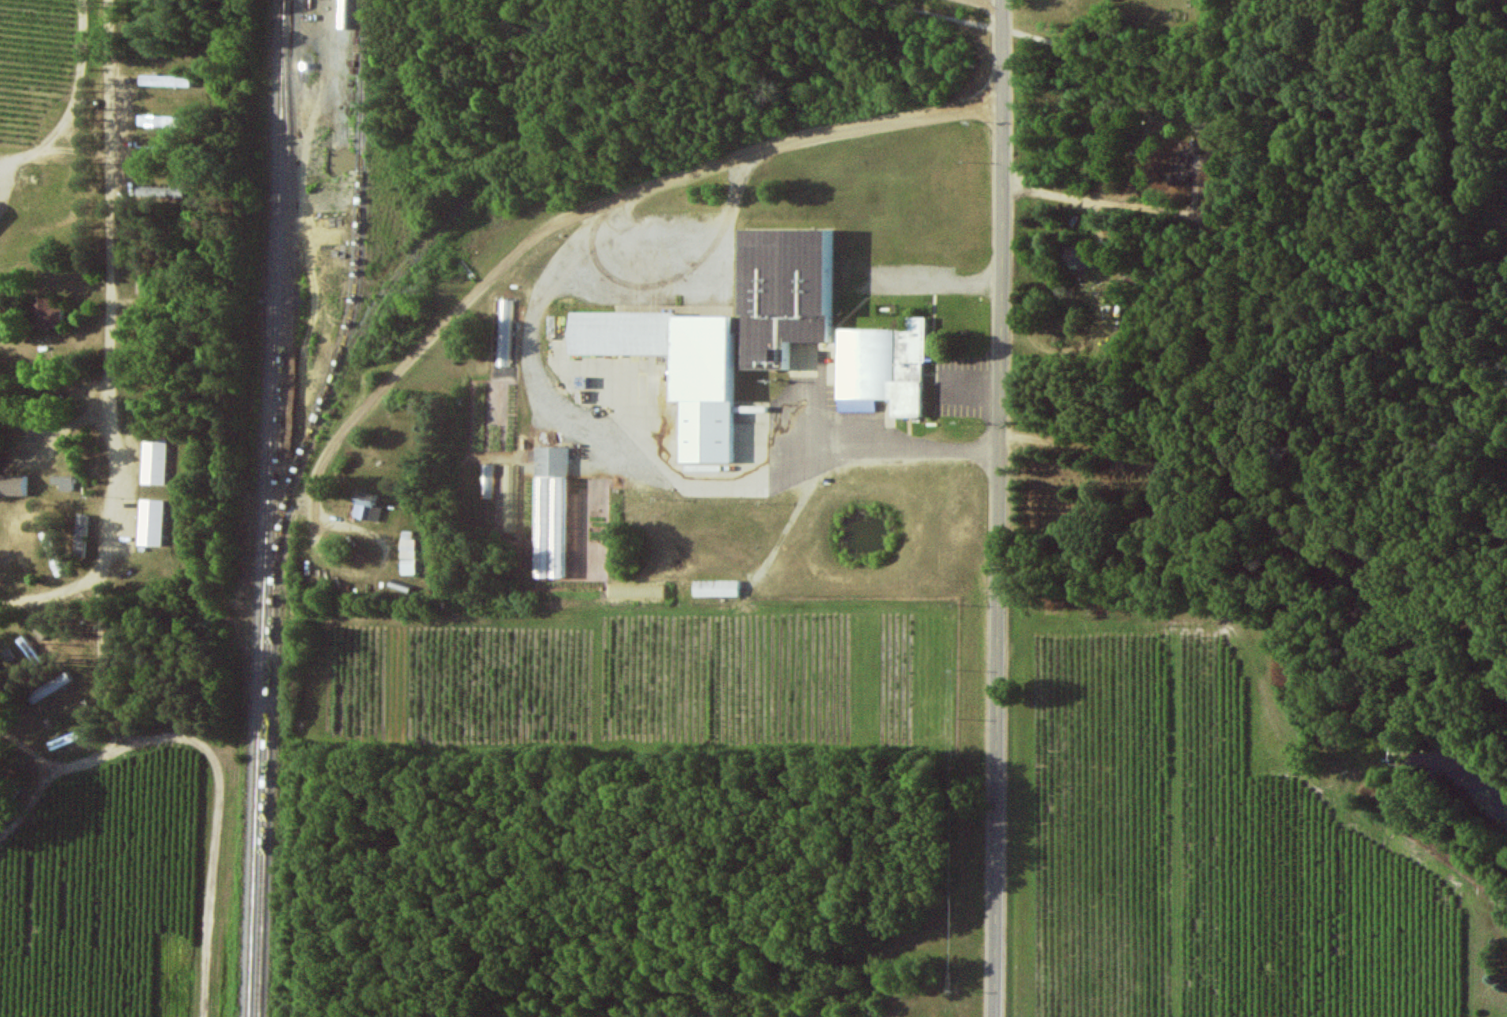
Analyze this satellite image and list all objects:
road: (1001, 0)
road: (1004, 0)
road: (1189, 75)
building: (165, 80)
building: (156, 120)
building: (1180, 168)
road: (604, 194)
road: (110, 195)
road: (1261, 227)
building: (1076, 253)
road: (940, 281)
building: (44, 313)
building: (505, 332)
building: (725, 334)
building: (880, 369)
road: (34, 403)
building: (154, 461)
building: (61, 481)
building: (13, 485)
building: (366, 506)
railway: (269, 508)
railway: (278, 508)
road: (1000, 509)
building: (551, 512)
park: (1097, 517)
building: (151, 522)
building: (80, 535)
road: (110, 535)
building: (407, 548)
building: (408, 567)
building: (716, 588)
building: (24, 646)
building: (6, 654)
building: (47, 687)

